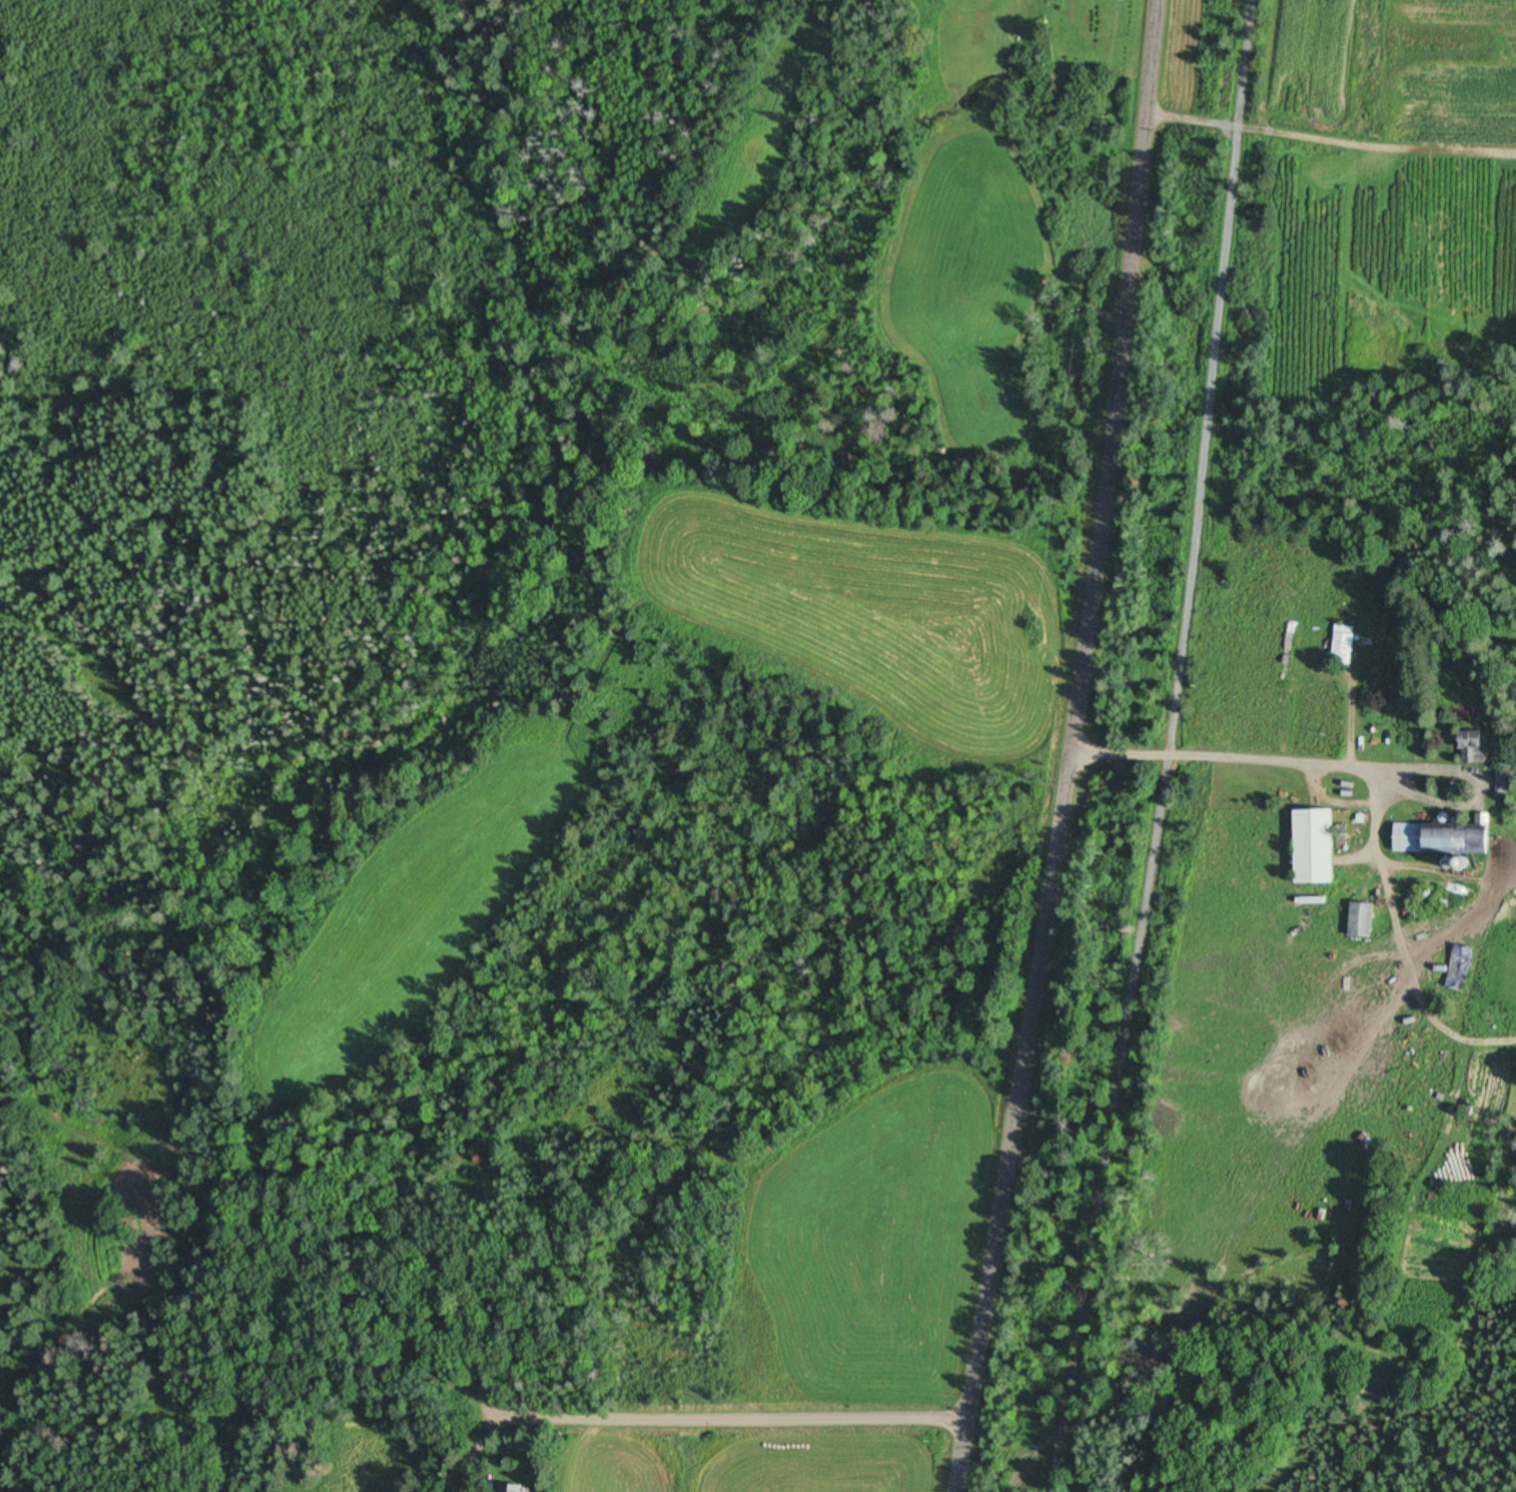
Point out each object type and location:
building: (1347, 645)
road: (1054, 746)
road: (1169, 748)
building: (1479, 749)
building: (1452, 841)
building: (1320, 847)
building: (1366, 921)
building: (1463, 966)
road: (460, 1424)
building: (520, 1489)

